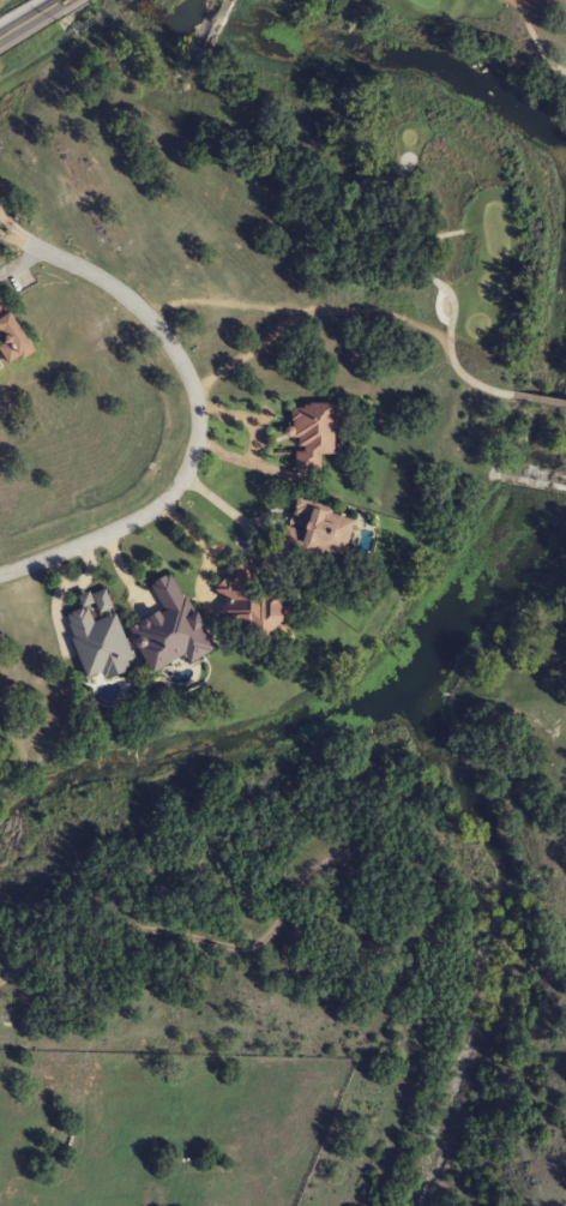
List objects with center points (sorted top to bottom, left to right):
road: (31, 18)
park: (470, 230)
park: (471, 230)
road: (16, 257)
building: (12, 335)
building: (0, 367)
road: (195, 408)
building: (313, 436)
building: (321, 533)
building: (253, 600)
building: (171, 630)
building: (98, 637)

